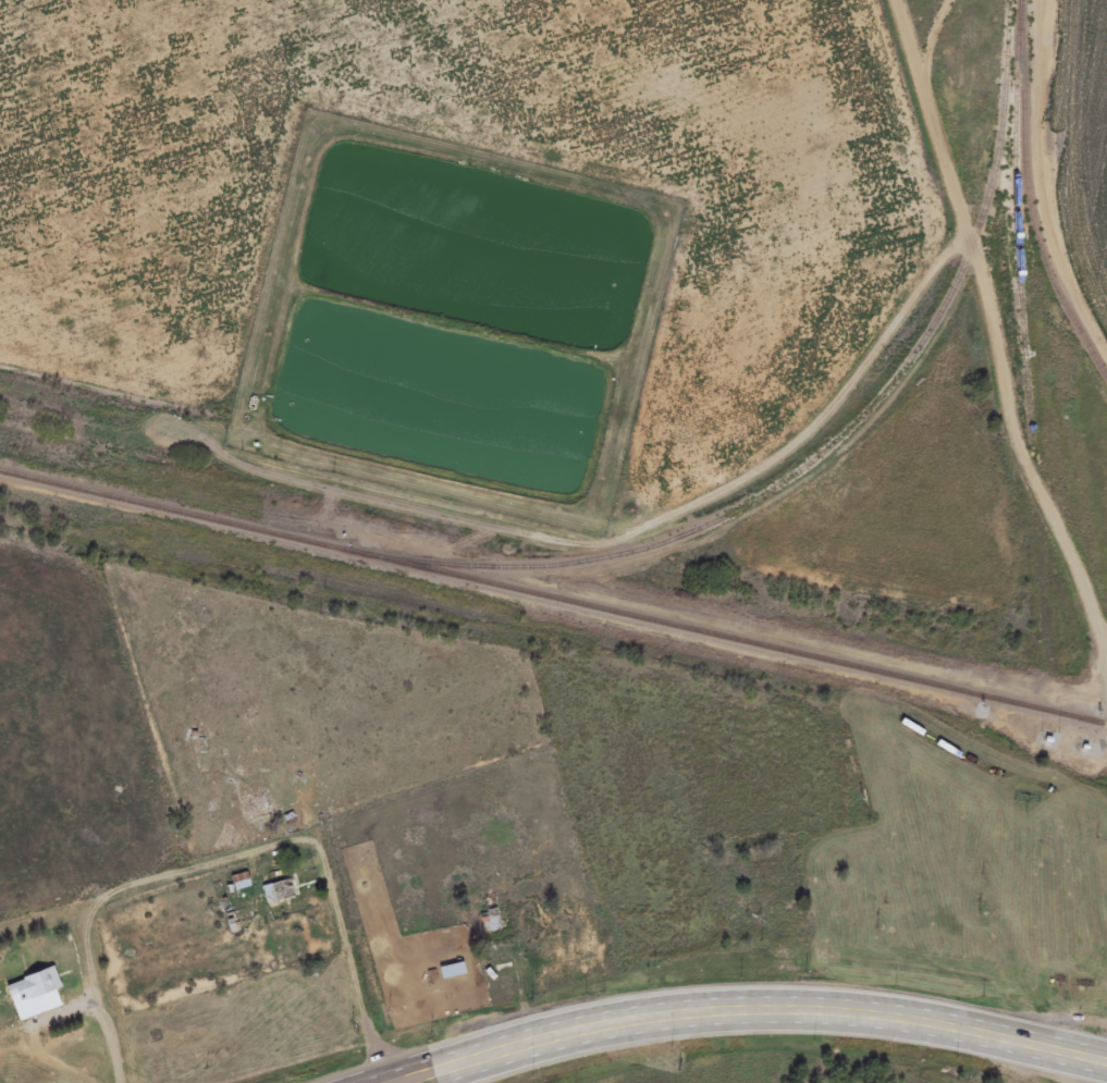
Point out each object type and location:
railway: (1031, 208)
railway: (1017, 226)
road: (996, 335)
railway: (840, 440)
railway: (553, 600)
road: (1105, 636)
railway: (1057, 767)
building: (278, 894)
building: (766, 911)
building: (492, 921)
building: (500, 960)
road: (714, 990)
building: (34, 996)
road: (763, 1017)
road: (1080, 1059)
road: (389, 1081)

